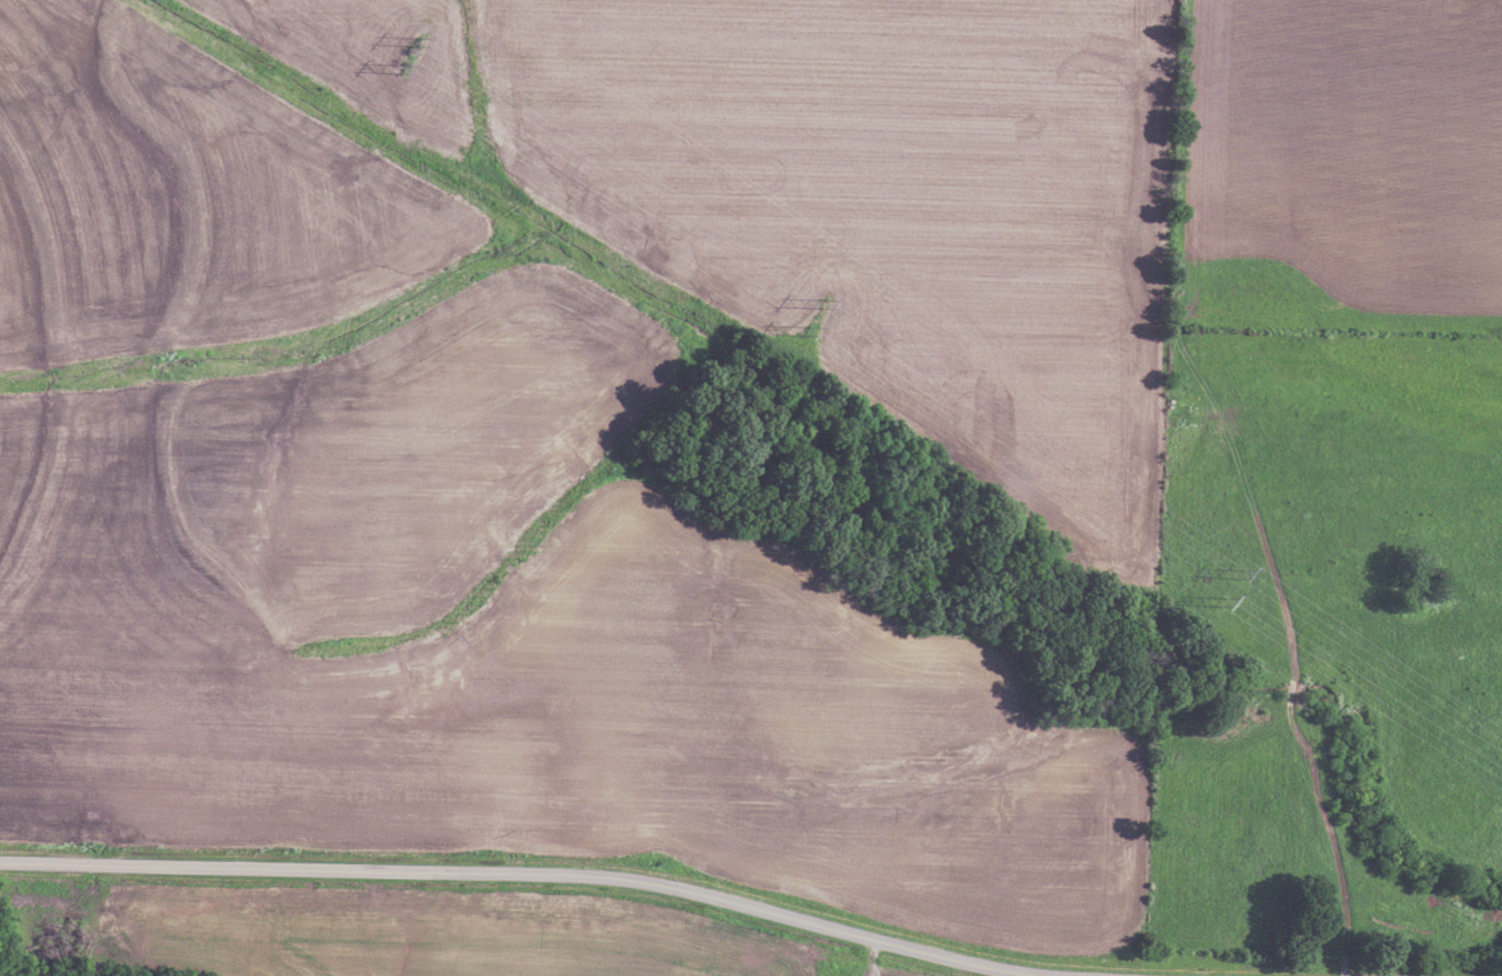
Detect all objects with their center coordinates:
power tower: (425, 41)
power tower: (404, 65)
power tower: (828, 305)
power tower: (806, 329)
power tower: (1241, 571)
power tower: (1227, 601)
road: (520, 873)

